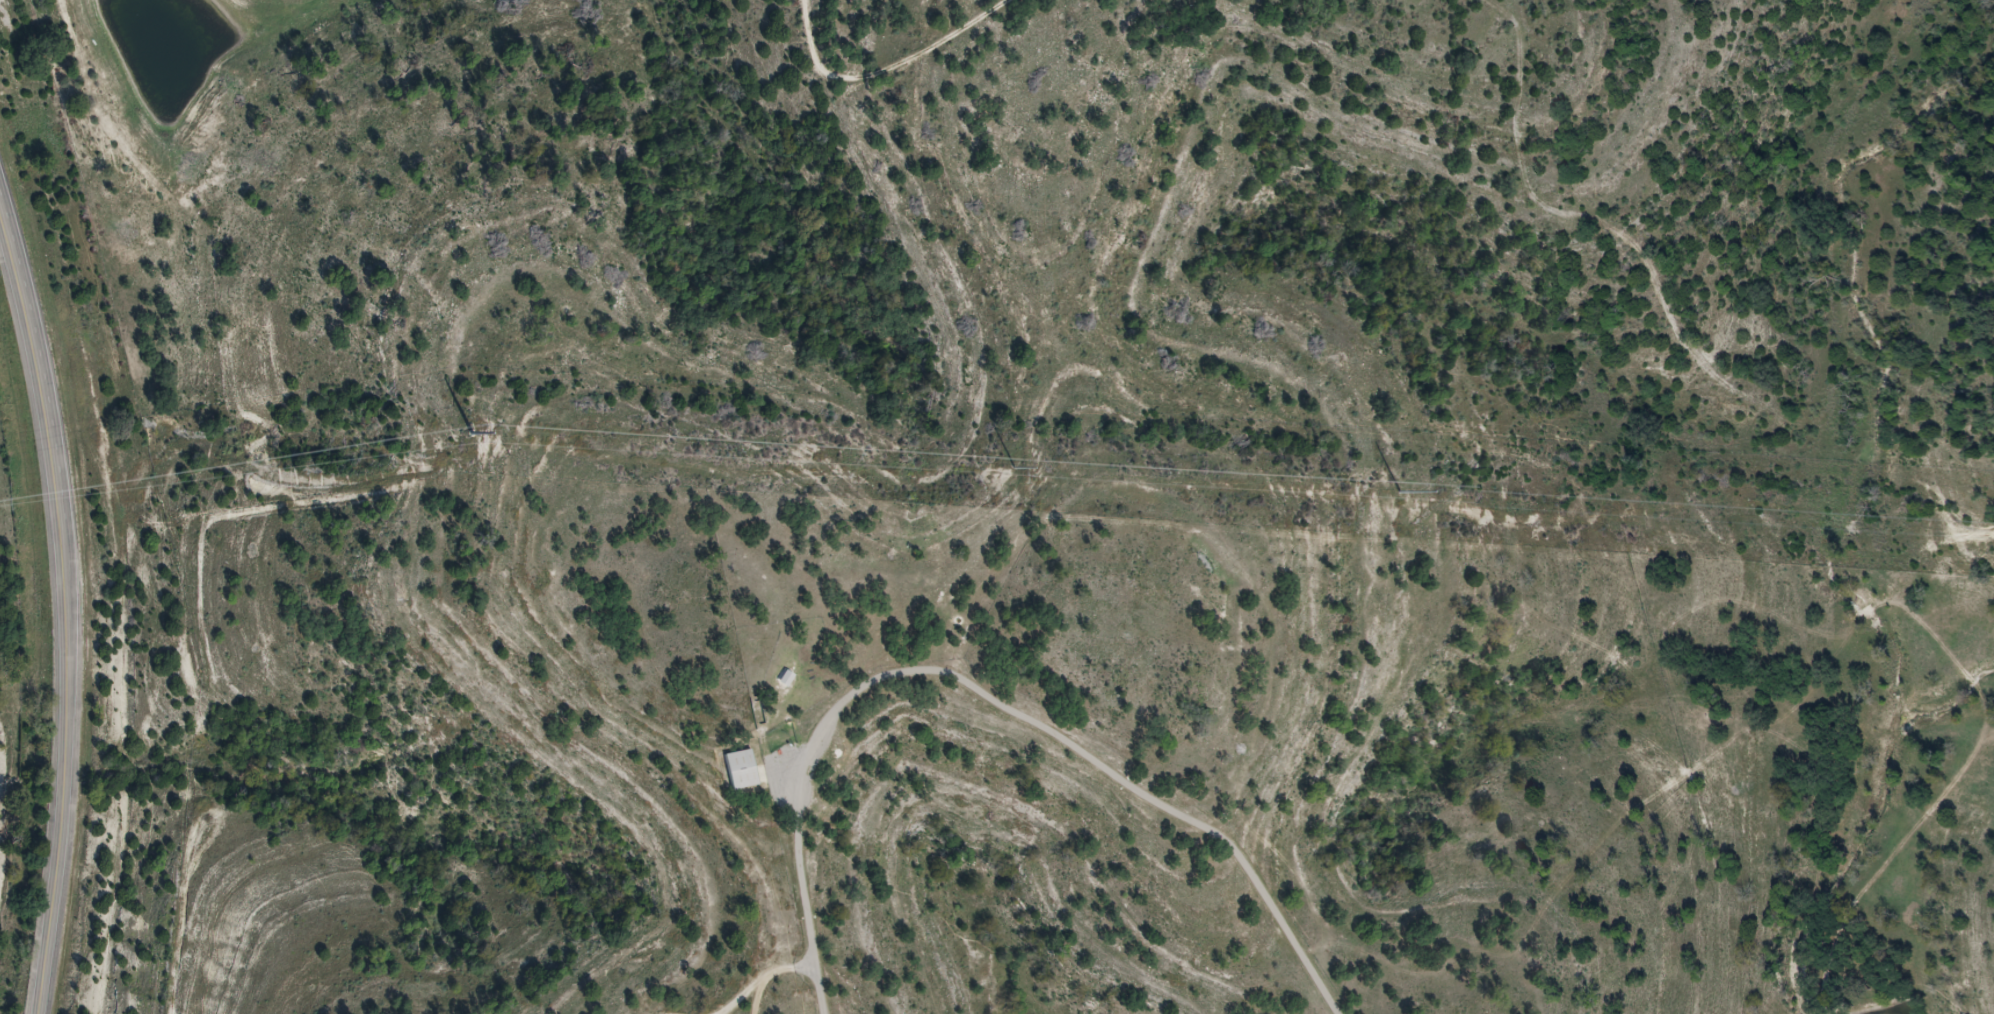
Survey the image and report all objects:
road: (46, 376)
power tower: (473, 434)
power tower: (1013, 468)
power tower: (1402, 492)
building: (787, 680)
road: (994, 699)
building: (743, 770)
road: (67, 783)

